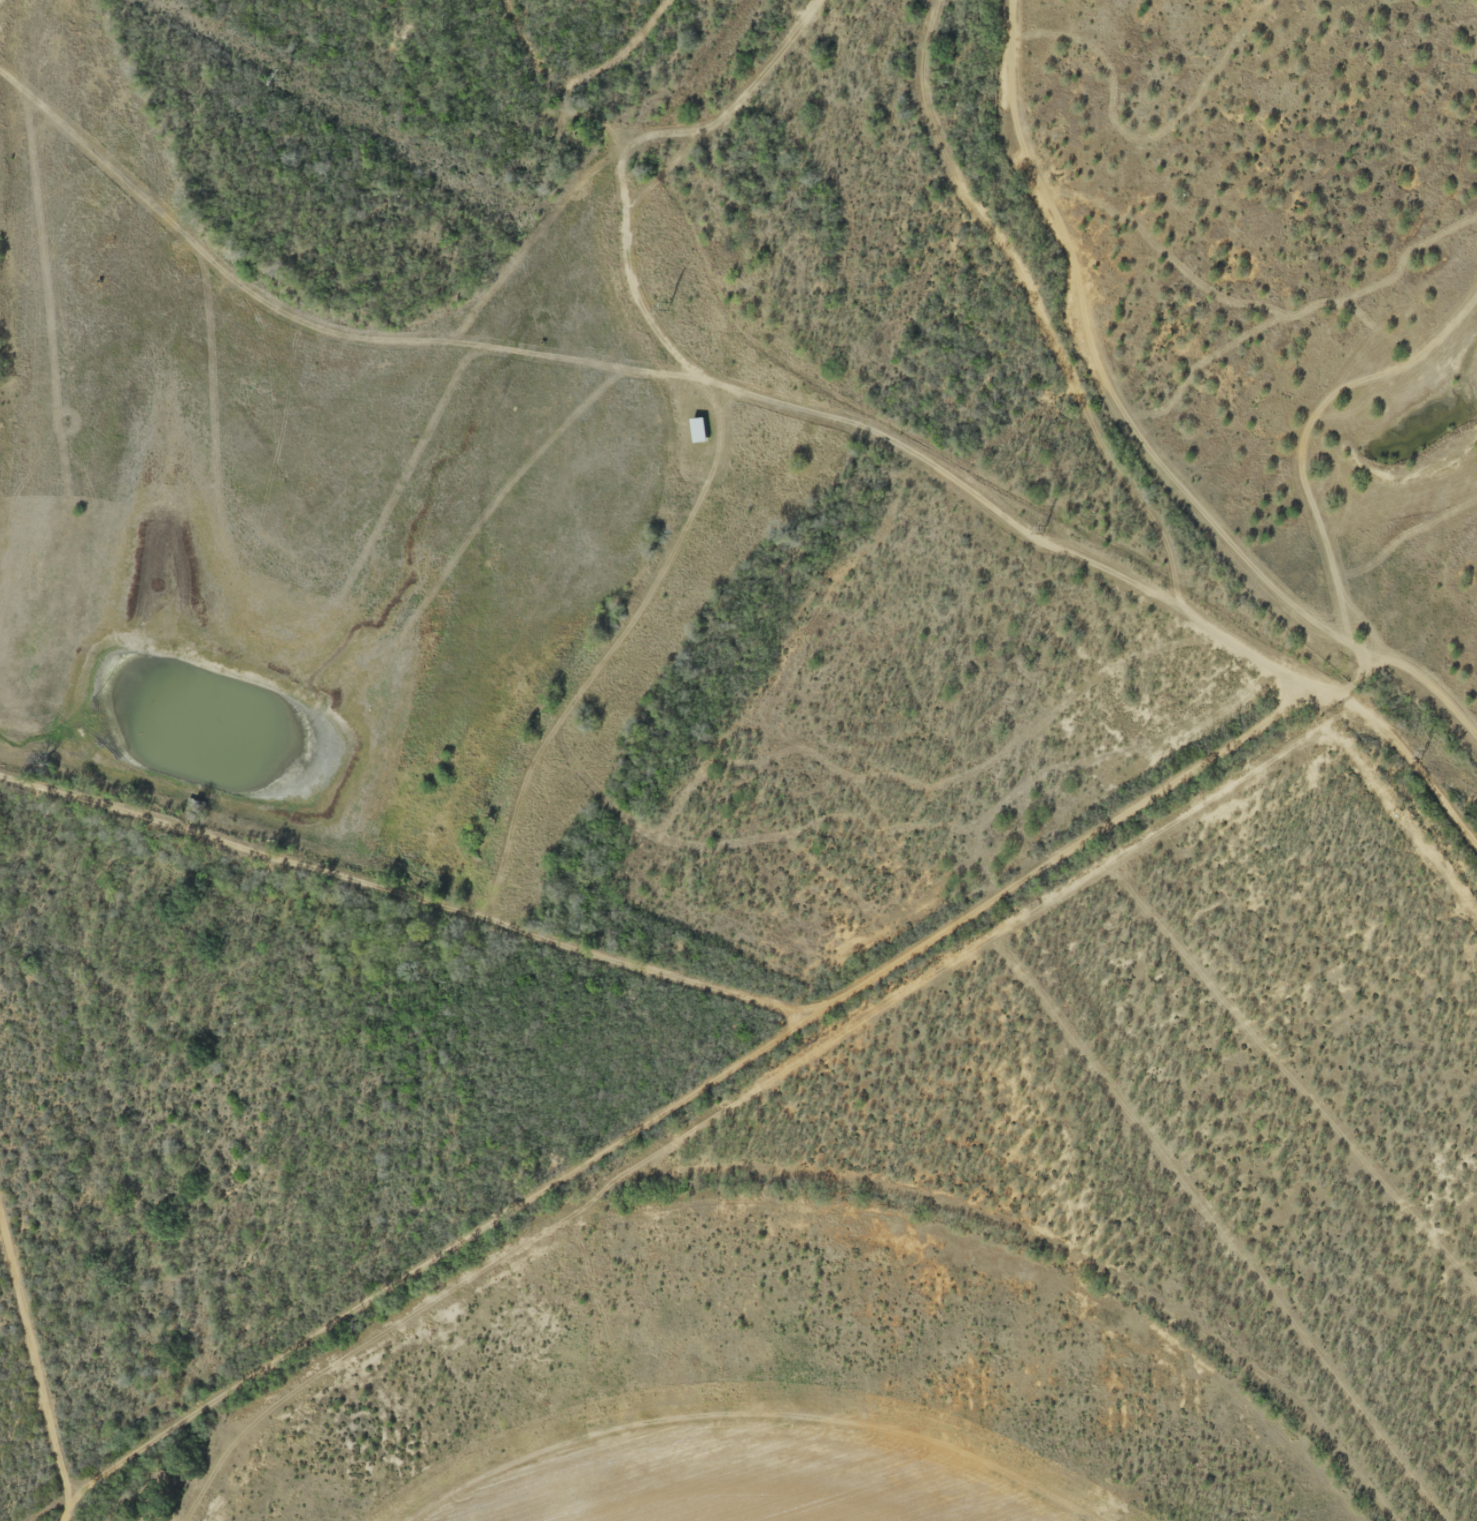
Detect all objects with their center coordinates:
power tower: (283, 77)
power tower: (669, 306)
building: (700, 432)
road: (1126, 472)
power tower: (1044, 530)
power tower: (1423, 756)
road: (397, 904)
road: (692, 1117)

